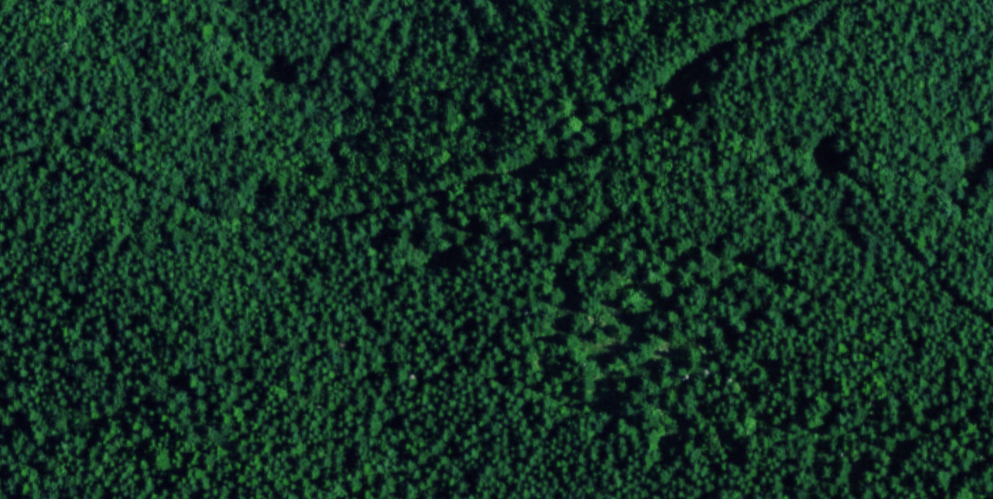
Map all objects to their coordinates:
road: (522, 163)

